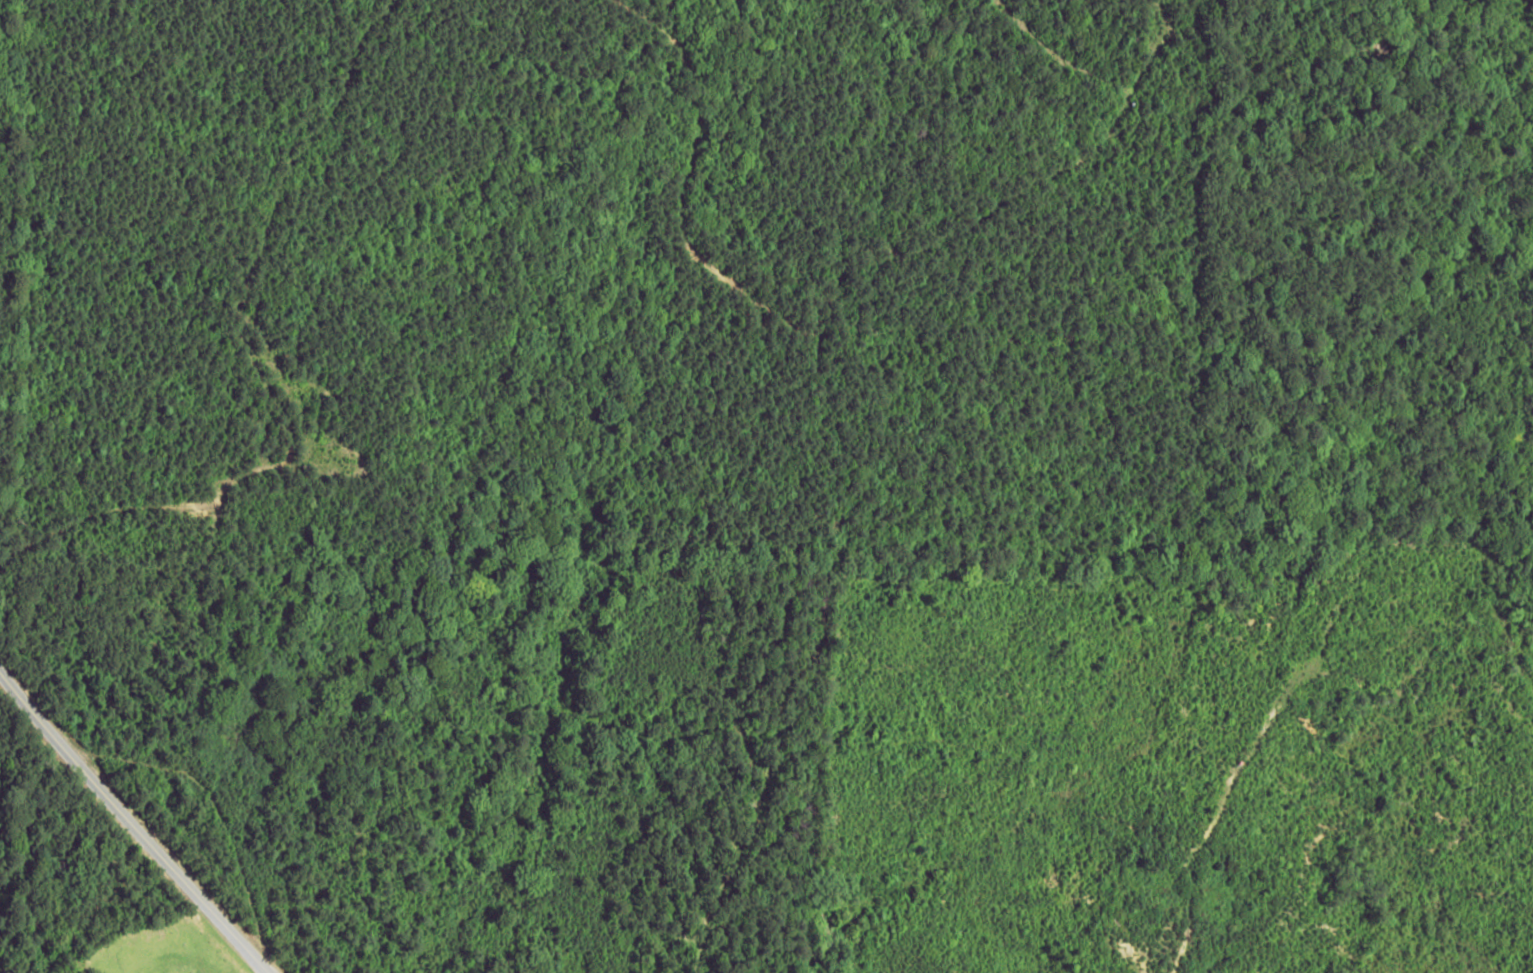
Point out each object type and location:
road: (102, 849)
building: (193, 972)

